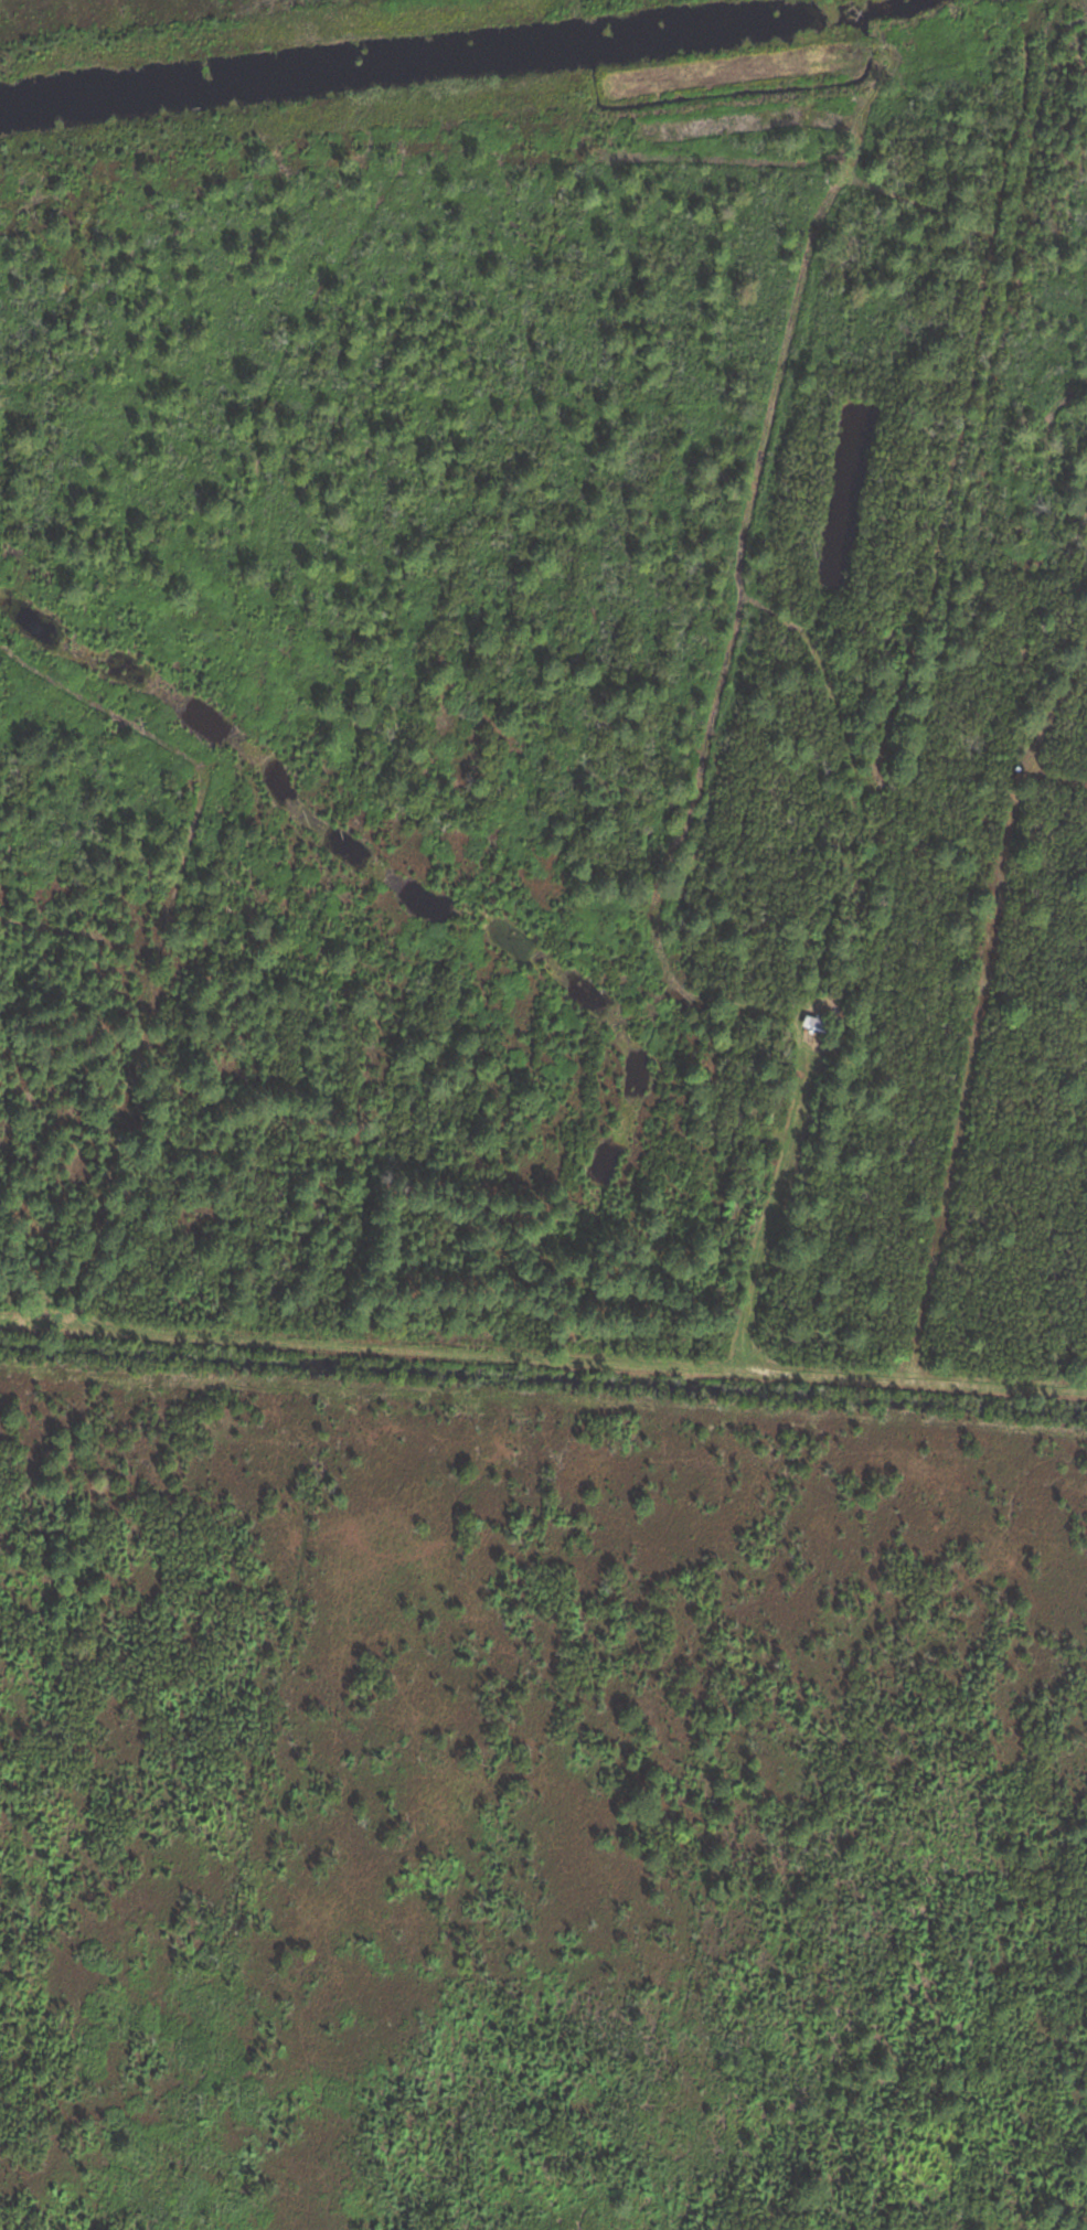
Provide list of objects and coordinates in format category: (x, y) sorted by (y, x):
road: (543, 1356)
road: (543, 1401)

